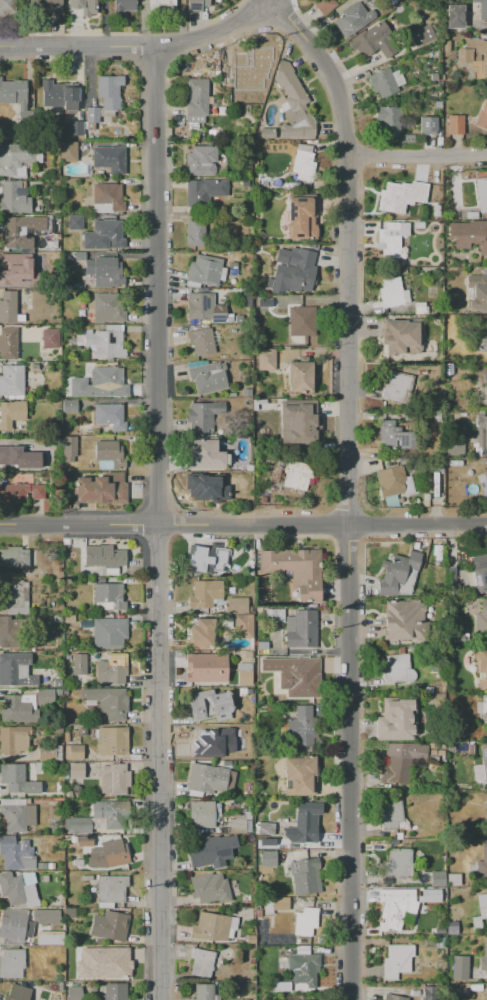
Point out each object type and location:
building: (194, 5)
building: (323, 5)
building: (46, 6)
building: (82, 6)
building: (161, 6)
building: (7, 7)
building: (124, 7)
building: (466, 14)
building: (353, 19)
building: (421, 36)
building: (368, 39)
road: (138, 45)
building: (473, 53)
building: (244, 72)
building: (385, 82)
building: (109, 92)
building: (13, 93)
building: (59, 97)
building: (196, 99)
building: (293, 106)
building: (482, 115)
building: (91, 117)
building: (388, 120)
building: (455, 124)
building: (428, 125)
building: (75, 128)
building: (408, 138)
building: (68, 152)
building: (18, 158)
building: (110, 158)
building: (201, 161)
road: (416, 161)
building: (303, 163)
building: (204, 192)
building: (482, 194)
building: (401, 196)
building: (14, 198)
building: (107, 198)
building: (450, 205)
building: (436, 211)
building: (471, 215)
building: (302, 217)
building: (74, 222)
building: (195, 233)
building: (469, 234)
building: (106, 235)
building: (20, 242)
building: (389, 243)
building: (79, 255)
building: (233, 268)
building: (294, 270)
building: (205, 271)
building: (104, 272)
building: (478, 292)
building: (393, 293)
building: (9, 308)
building: (104, 308)
building: (206, 308)
building: (419, 308)
building: (302, 321)
building: (400, 337)
building: (50, 338)
building: (481, 338)
building: (203, 341)
building: (8, 343)
building: (102, 344)
building: (266, 359)
building: (67, 365)
building: (447, 369)
building: (299, 376)
building: (208, 377)
building: (12, 381)
building: (108, 381)
building: (485, 382)
building: (397, 388)
building: (246, 392)
building: (69, 406)
building: (11, 413)
building: (436, 415)
building: (109, 416)
building: (203, 416)
building: (297, 426)
building: (481, 430)
building: (393, 436)
building: (69, 448)
building: (109, 453)
building: (202, 454)
building: (19, 458)
building: (292, 476)
building: (393, 481)
building: (483, 483)
building: (439, 484)
building: (203, 488)
building: (101, 489)
road: (346, 489)
building: (20, 492)
road: (156, 522)
road: (243, 524)
building: (484, 547)
building: (104, 556)
building: (14, 557)
building: (219, 558)
building: (199, 559)
building: (295, 570)
building: (399, 575)
building: (481, 576)
building: (450, 581)
building: (16, 593)
building: (205, 594)
building: (108, 597)
building: (237, 605)
building: (274, 615)
building: (56, 618)
building: (68, 618)
building: (481, 619)
building: (404, 620)
building: (243, 626)
building: (301, 629)
building: (19, 633)
building: (109, 633)
building: (202, 634)
building: (262, 645)
building: (247, 655)
building: (79, 664)
building: (206, 667)
building: (481, 668)
building: (111, 669)
building: (397, 669)
building: (16, 670)
building: (244, 674)
building: (296, 675)
building: (57, 683)
building: (44, 696)
building: (105, 703)
building: (210, 705)
building: (482, 707)
building: (18, 708)
building: (395, 721)
building: (302, 727)
building: (56, 729)
building: (14, 740)
building: (112, 741)
building: (212, 742)
building: (471, 749)
building: (74, 752)
building: (47, 754)
building: (400, 761)
building: (484, 761)
building: (76, 771)
building: (300, 777)
building: (114, 778)
building: (17, 779)
building: (206, 779)
building: (247, 787)
building: (201, 813)
building: (111, 814)
building: (390, 815)
building: (486, 816)
building: (16, 818)
building: (304, 823)
building: (237, 824)
building: (80, 826)
building: (265, 829)
building: (85, 841)
building: (266, 842)
building: (114, 853)
building: (200, 853)
building: (16, 854)
building: (269, 858)
building: (399, 862)
building: (482, 862)
building: (41, 866)
building: (50, 866)
building: (305, 876)
building: (87, 878)
building: (437, 878)
building: (453, 879)
building: (111, 888)
building: (208, 889)
building: (17, 890)
building: (428, 895)
building: (276, 904)
building: (482, 905)
building: (399, 910)
building: (69, 913)
building: (44, 916)
building: (305, 921)
building: (109, 925)
building: (15, 926)
building: (214, 927)
building: (451, 927)
building: (50, 939)
building: (250, 939)
building: (484, 958)
building: (396, 960)
building: (201, 962)
building: (112, 963)
building: (12, 964)
building: (458, 967)
building: (305, 968)
road: (375, 989)
building: (463, 989)
building: (114, 991)
building: (203, 991)
building: (429, 992)
building: (19, 993)
building: (75, 993)
building: (393, 997)
building: (300, 998)
building: (238, 999)
building: (486, 999)

